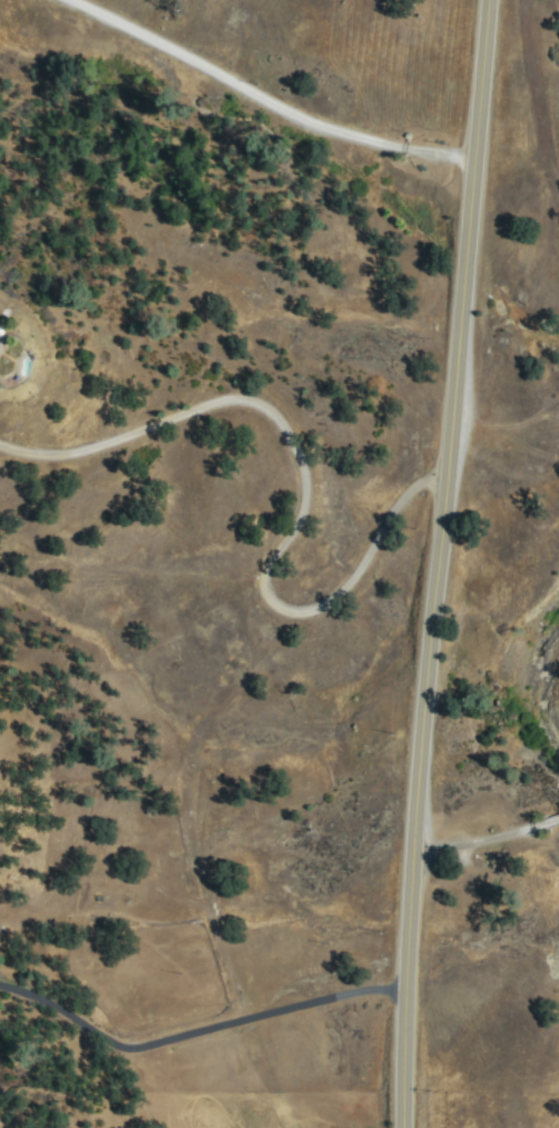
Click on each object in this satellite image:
road: (266, 98)
building: (4, 343)
road: (305, 484)
road: (438, 563)
road: (486, 836)
road: (67, 1019)
road: (269, 1019)

